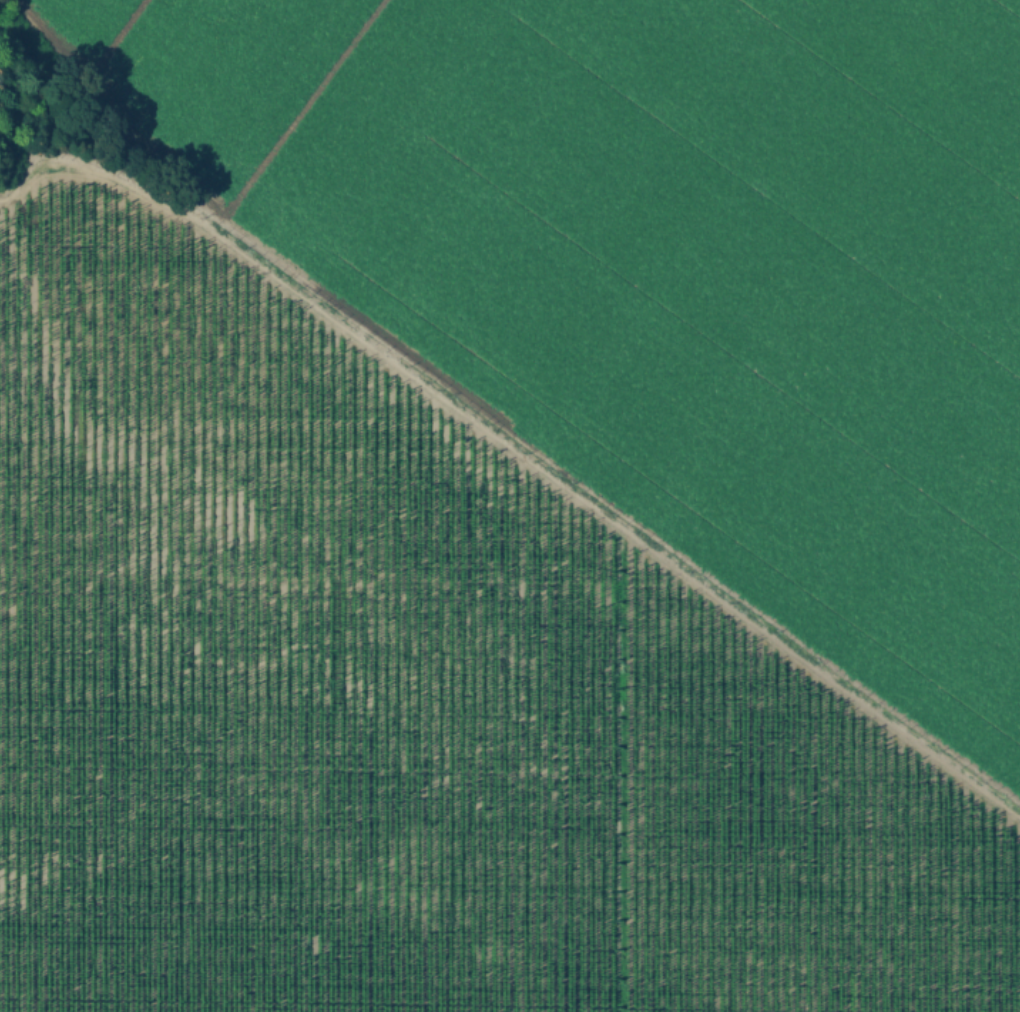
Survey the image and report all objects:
crop: (516, 511)

